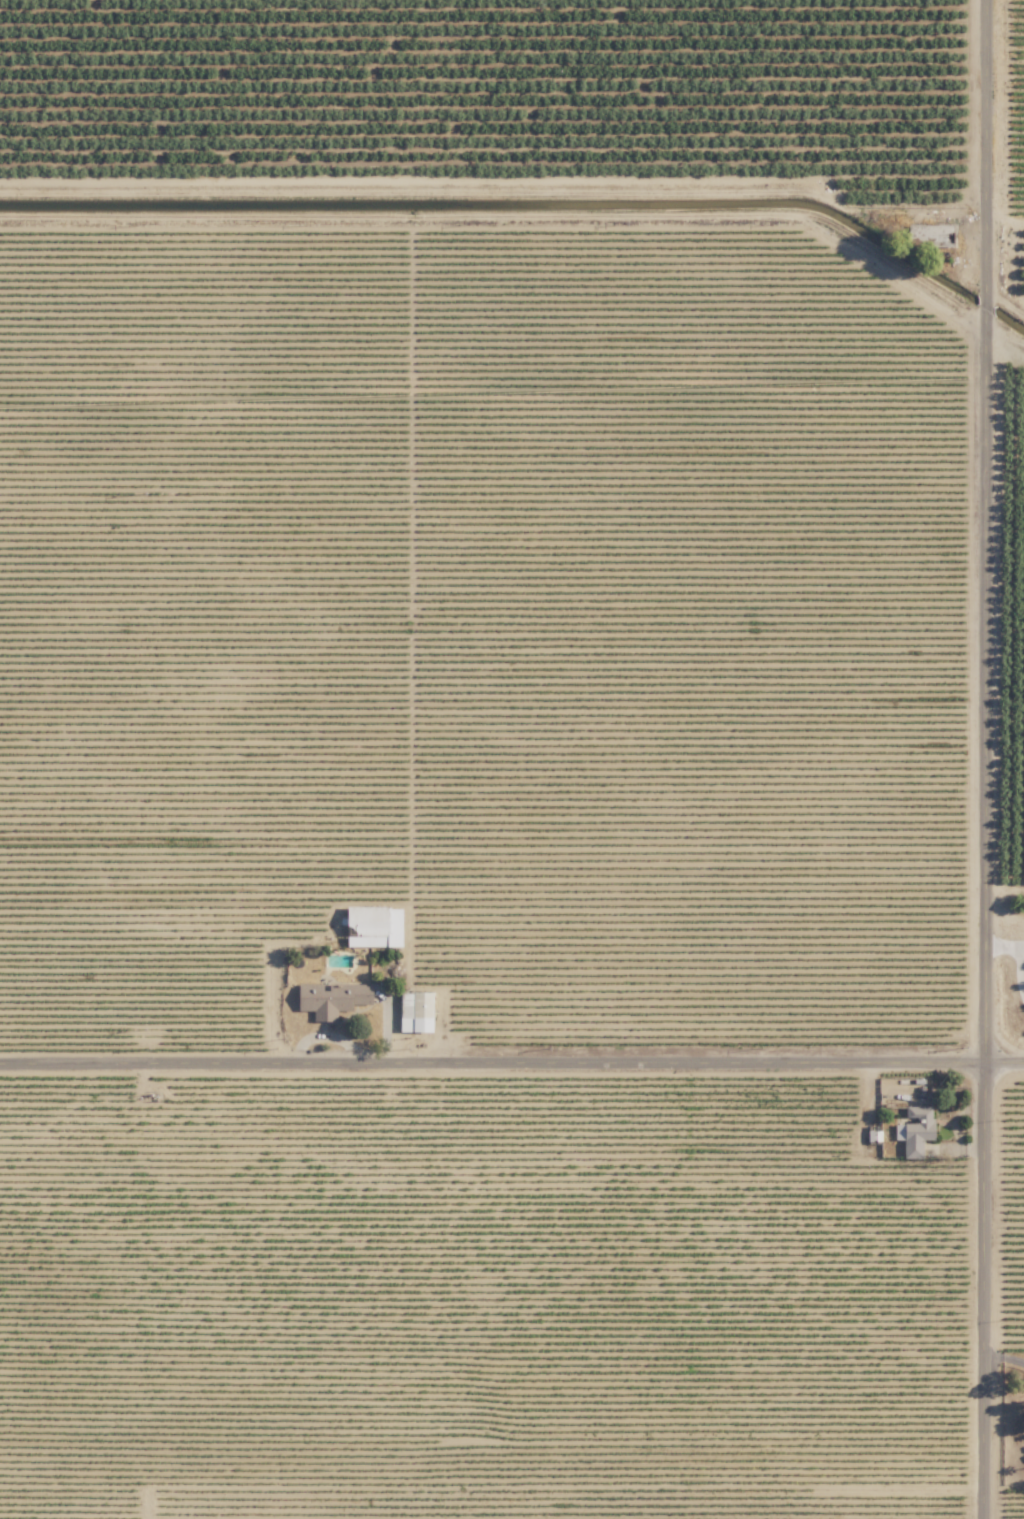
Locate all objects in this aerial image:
road: (988, 759)
building: (376, 926)
building: (333, 999)
building: (418, 1011)
road: (512, 1065)
building: (919, 1130)
road: (1004, 1356)

